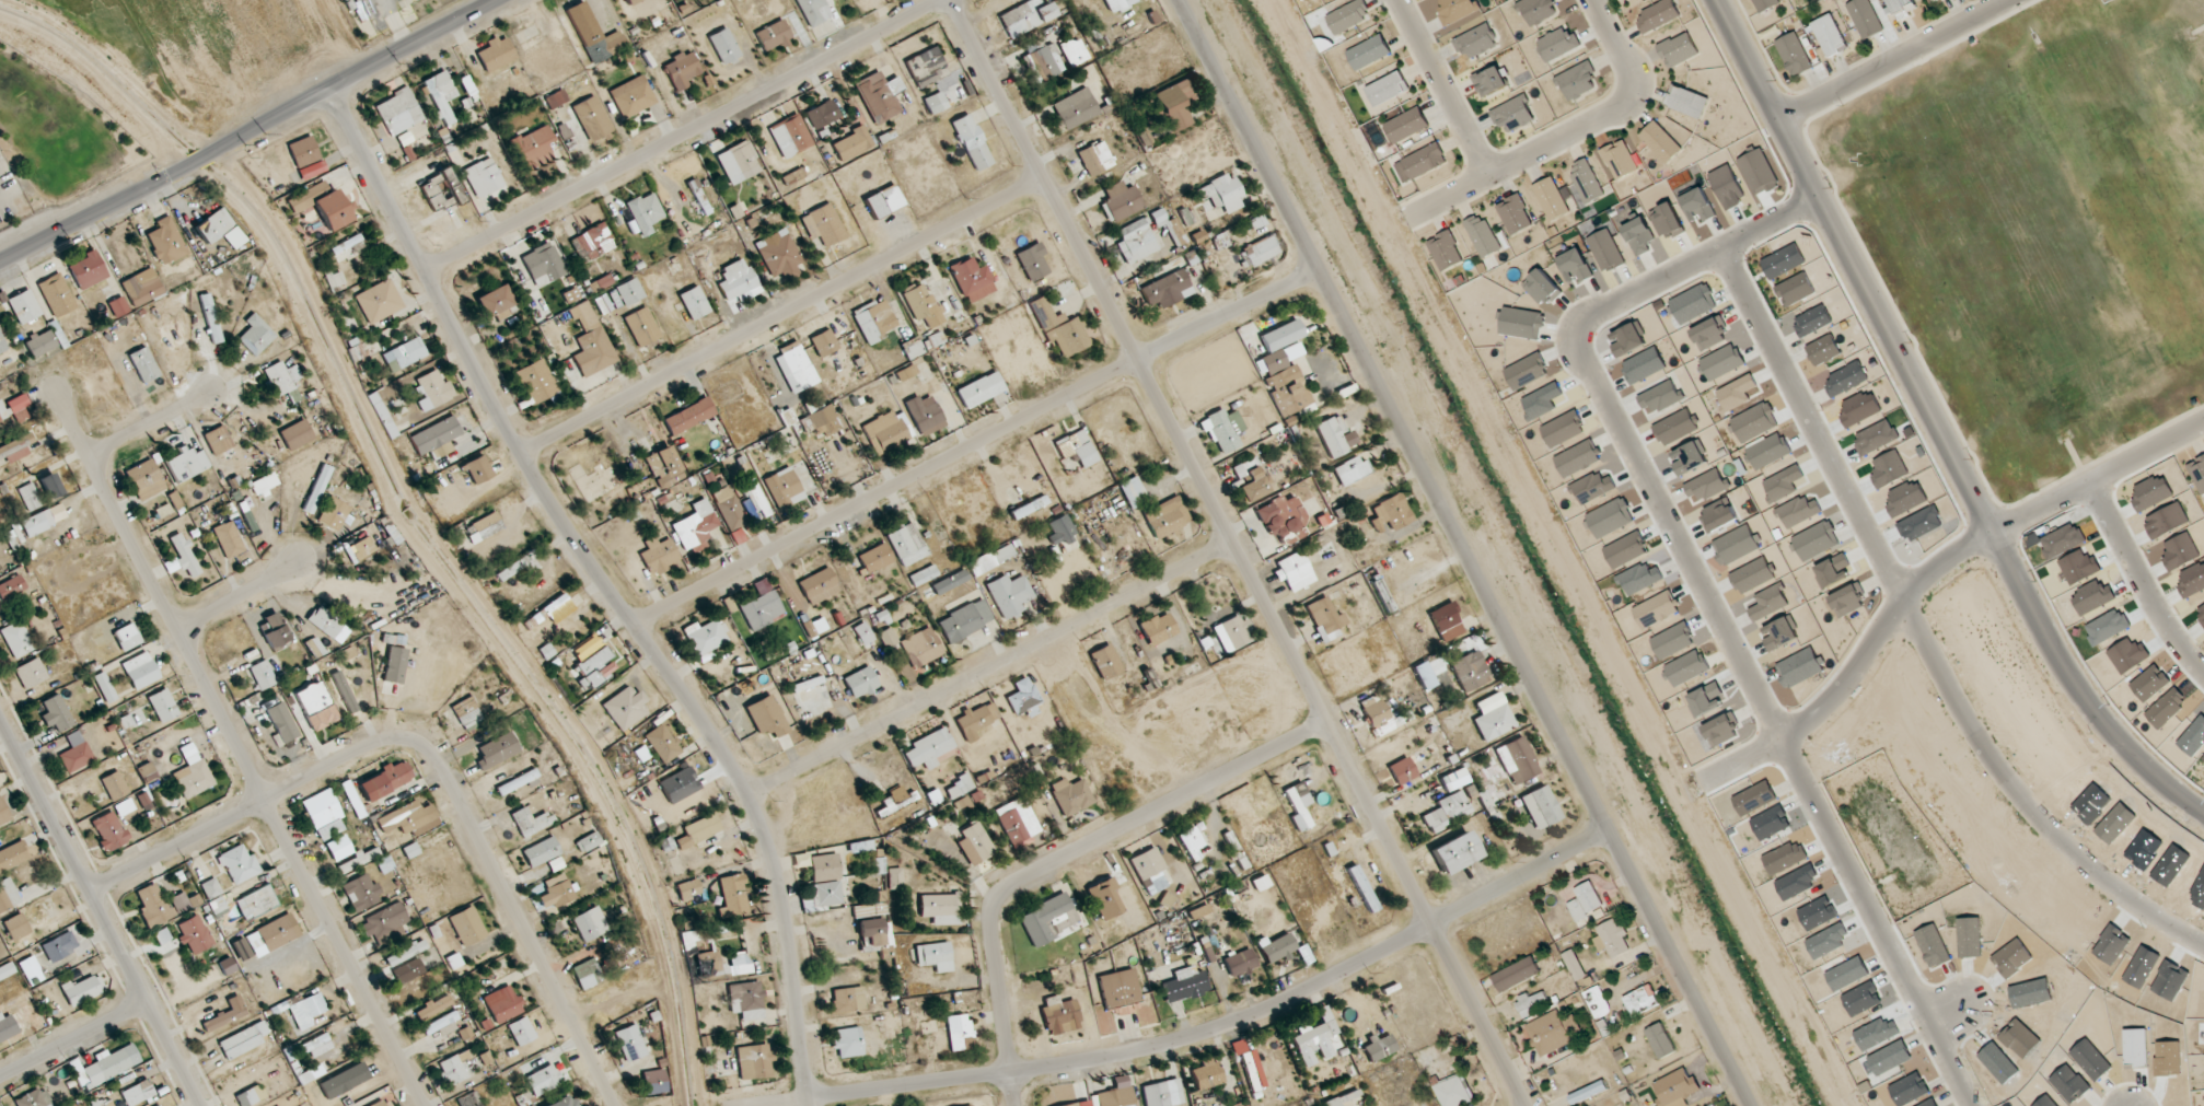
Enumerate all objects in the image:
building: (341, 0)
building: (630, 2)
building: (1117, 4)
building: (1765, 4)
building: (1901, 5)
building: (1457, 10)
building: (1538, 10)
building: (813, 12)
building: (1348, 15)
building: (1657, 15)
building: (1025, 16)
building: (1865, 18)
road: (394, 24)
building: (593, 35)
building: (1830, 35)
building: (773, 36)
building: (1475, 42)
building: (1557, 44)
building: (723, 46)
building: (1678, 49)
building: (1074, 51)
building: (1368, 51)
building: (497, 54)
building: (1794, 55)
road: (1892, 61)
building: (1043, 62)
building: (926, 67)
building: (682, 70)
building: (1490, 81)
building: (1577, 81)
building: (1387, 89)
road: (1437, 89)
building: (441, 95)
building: (631, 96)
building: (879, 96)
building: (556, 100)
building: (1686, 101)
building: (935, 103)
building: (1175, 104)
building: (1074, 109)
building: (402, 114)
building: (823, 114)
building: (1512, 114)
building: (591, 118)
building: (1406, 125)
road: (250, 133)
road: (686, 133)
road: (1566, 133)
building: (790, 136)
building: (972, 142)
building: (1660, 142)
building: (852, 143)
building: (534, 147)
building: (303, 151)
building: (1094, 159)
building: (1620, 160)
building: (738, 162)
building: (1420, 162)
building: (483, 177)
building: (1586, 181)
building: (441, 191)
building: (1222, 193)
building: (1551, 198)
building: (883, 201)
building: (1121, 201)
building: (323, 205)
building: (645, 212)
building: (1515, 214)
building: (823, 224)
building: (214, 225)
building: (1173, 226)
building: (1482, 235)
building: (234, 237)
building: (1136, 241)
building: (165, 242)
building: (592, 243)
building: (348, 247)
building: (1261, 251)
building: (1446, 251)
building: (780, 257)
building: (1032, 261)
building: (543, 263)
building: (88, 270)
building: (972, 280)
building: (738, 281)
building: (601, 283)
building: (142, 289)
building: (1167, 289)
building: (626, 293)
building: (57, 295)
building: (379, 301)
building: (495, 302)
building: (694, 303)
building: (921, 304)
building: (23, 306)
building: (118, 306)
road: (779, 317)
building: (210, 318)
building: (873, 321)
building: (641, 327)
building: (1059, 328)
building: (256, 335)
building: (1281, 335)
building: (591, 341)
building: (824, 342)
building: (40, 344)
building: (2, 345)
building: (912, 348)
building: (404, 354)
building: (1283, 357)
building: (143, 364)
building: (794, 368)
building: (282, 377)
road: (1786, 377)
building: (536, 381)
building: (1288, 388)
building: (981, 389)
building: (433, 391)
building: (19, 407)
building: (3, 411)
building: (925, 415)
building: (688, 416)
building: (822, 417)
road: (151, 426)
road: (1935, 428)
building: (1223, 430)
building: (297, 434)
building: (1335, 435)
building: (436, 438)
building: (218, 440)
road: (975, 441)
building: (1076, 447)
building: (15, 449)
building: (187, 464)
road: (1636, 464)
building: (664, 467)
building: (477, 469)
building: (1350, 469)
building: (2197, 473)
building: (146, 479)
building: (1252, 479)
road: (2096, 479)
building: (264, 484)
building: (50, 486)
building: (784, 487)
building: (317, 489)
building: (1132, 492)
building: (28, 497)
building: (756, 498)
building: (729, 508)
building: (333, 513)
building: (1391, 513)
building: (1281, 515)
building: (1165, 517)
building: (43, 520)
building: (695, 525)
building: (484, 527)
building: (1060, 529)
building: (228, 539)
building: (906, 544)
building: (363, 548)
road: (1237, 552)
road: (1465, 552)
road: (1552, 552)
building: (184, 555)
building: (659, 555)
building: (875, 558)
building: (990, 559)
building: (519, 566)
building: (1294, 571)
building: (923, 575)
building: (950, 582)
road: (2141, 582)
building: (819, 586)
building: (11, 587)
road: (610, 587)
building: (1009, 594)
road: (237, 595)
building: (557, 608)
building: (762, 609)
building: (1325, 619)
building: (964, 620)
building: (325, 621)
building: (1446, 622)
building: (1158, 628)
building: (274, 631)
building: (1231, 633)
building: (863, 635)
building: (127, 637)
building: (706, 637)
building: (888, 638)
building: (16, 639)
building: (921, 647)
building: (1105, 662)
building: (395, 665)
road: (991, 665)
building: (595, 667)
building: (140, 671)
building: (1470, 671)
building: (31, 673)
building: (263, 675)
building: (1425, 675)
building: (860, 683)
building: (105, 687)
building: (345, 691)
building: (1022, 696)
building: (163, 706)
building: (316, 706)
building: (626, 708)
building: (466, 712)
building: (56, 713)
building: (766, 717)
building: (1493, 717)
building: (1380, 718)
building: (976, 720)
building: (282, 722)
building: (662, 743)
road: (241, 748)
building: (928, 748)
building: (497, 750)
building: (76, 753)
road: (438, 757)
building: (1517, 760)
road: (1741, 760)
building: (1402, 771)
building: (147, 772)
building: (193, 772)
building: (390, 778)
building: (1454, 779)
building: (517, 782)
building: (680, 784)
building: (114, 785)
building: (959, 787)
road: (1808, 792)
building: (1070, 795)
road: (2027, 796)
building: (895, 801)
building: (1298, 805)
building: (124, 807)
building: (1541, 807)
building: (1447, 811)
building: (3, 813)
building: (324, 814)
building: (403, 818)
building: (1017, 820)
building: (531, 822)
building: (111, 830)
building: (699, 830)
building: (589, 842)
building: (1191, 842)
building: (975, 843)
building: (339, 848)
building: (541, 852)
building: (1454, 852)
building: (12, 855)
road: (1068, 857)
building: (359, 860)
building: (239, 864)
building: (824, 868)
building: (1149, 870)
building: (894, 877)
building: (1261, 883)
building: (211, 888)
building: (1362, 888)
building: (688, 889)
building: (556, 892)
building: (361, 893)
building: (8, 895)
building: (733, 895)
building: (826, 895)
building: (1104, 898)
building: (1585, 901)
building: (257, 903)
building: (153, 905)
building: (941, 908)
road: (101, 910)
building: (1048, 919)
building: (385, 923)
building: (590, 923)
building: (467, 925)
building: (16, 928)
building: (195, 934)
building: (272, 935)
building: (1611, 939)
building: (59, 946)
building: (1276, 947)
building: (405, 953)
building: (935, 956)
building: (1240, 963)
building: (1574, 965)
building: (228, 966)
building: (7, 970)
building: (31, 970)
building: (587, 974)
building: (1517, 974)
building: (1191, 982)
building: (82, 990)
building: (1120, 991)
building: (746, 1000)
building: (847, 1000)
building: (1640, 1000)
building: (1597, 1002)
building: (1530, 1003)
building: (503, 1004)
building: (433, 1006)
building: (304, 1011)
road: (1956, 1013)
building: (225, 1014)
building: (441, 1024)
building: (7, 1027)
building: (521, 1031)
building: (960, 1033)
building: (1548, 1033)
building: (1314, 1038)
road: (72, 1039)
building: (243, 1040)
building: (1660, 1040)
building: (848, 1041)
building: (630, 1043)
building: (317, 1046)
building: (1379, 1048)
road: (1135, 1051)
building: (754, 1061)
building: (106, 1066)
building: (454, 1068)
building: (1207, 1074)
building: (543, 1080)
building: (654, 1082)
building: (1675, 1088)
building: (1453, 1092)
building: (1588, 1092)
building: (138, 1093)
building: (1163, 1093)
building: (251, 1096)
building: (34, 1098)
building: (469, 1099)
building: (1346, 1099)
building: (565, 1102)
building: (380, 1103)
building: (1070, 1104)
building: (1243, 1104)
building: (160, 1105)
building: (1714, 1105)

